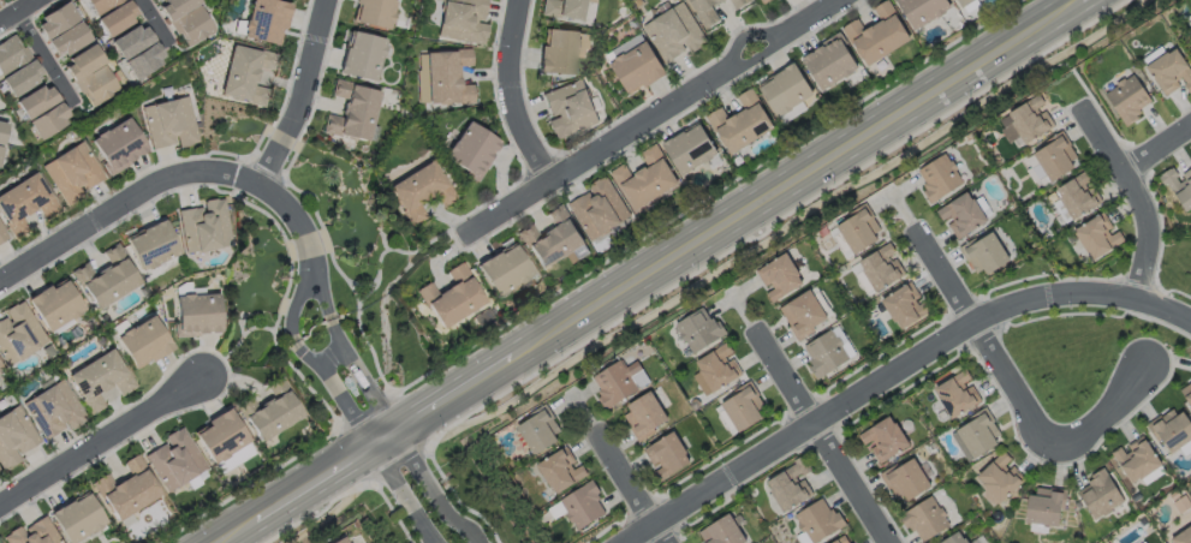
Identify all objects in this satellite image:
building: (5, 0)
road: (1082, 0)
building: (768, 1)
building: (99, 5)
building: (967, 5)
building: (174, 7)
building: (570, 10)
building: (715, 10)
road: (17, 11)
building: (924, 11)
building: (373, 13)
building: (115, 18)
building: (54, 20)
building: (464, 20)
building: (264, 23)
road: (154, 25)
building: (190, 28)
building: (674, 35)
building: (880, 37)
building: (65, 40)
building: (130, 42)
building: (1190, 42)
building: (1190, 44)
building: (10, 54)
building: (561, 54)
building: (363, 58)
road: (43, 60)
building: (143, 61)
building: (81, 65)
building: (832, 66)
building: (639, 70)
building: (1172, 71)
building: (239, 73)
building: (18, 77)
building: (451, 78)
building: (95, 86)
building: (788, 91)
road: (511, 95)
road: (299, 97)
building: (1131, 97)
building: (34, 101)
building: (571, 109)
building: (353, 113)
road: (650, 119)
building: (47, 121)
building: (1026, 121)
building: (167, 124)
building: (743, 126)
building: (1, 129)
building: (117, 145)
road: (1160, 149)
building: (692, 150)
building: (474, 151)
building: (1054, 159)
building: (996, 160)
building: (71, 172)
building: (937, 175)
road: (796, 179)
building: (650, 181)
building: (1181, 185)
building: (1080, 193)
building: (423, 195)
road: (1138, 199)
building: (24, 204)
road: (282, 209)
building: (602, 210)
building: (964, 215)
road: (103, 216)
building: (202, 227)
building: (861, 229)
building: (1098, 234)
building: (2, 237)
building: (555, 244)
building: (842, 244)
building: (151, 247)
building: (985, 253)
building: (882, 268)
building: (506, 273)
building: (779, 276)
building: (105, 279)
building: (452, 299)
building: (905, 305)
building: (56, 308)
building: (803, 314)
building: (200, 316)
building: (701, 329)
building: (16, 336)
building: (143, 345)
building: (828, 350)
road: (993, 351)
road: (332, 356)
building: (720, 366)
road: (898, 370)
building: (100, 382)
building: (614, 382)
fountain: (350, 386)
road: (453, 393)
building: (1186, 393)
building: (958, 395)
building: (744, 407)
building: (272, 410)
road: (1112, 410)
building: (53, 413)
road: (350, 414)
building: (644, 414)
road: (387, 417)
building: (907, 425)
building: (1172, 430)
building: (540, 431)
building: (979, 435)
building: (13, 437)
road: (824, 437)
building: (221, 438)
road: (379, 438)
road: (105, 440)
building: (886, 440)
building: (666, 455)
building: (1138, 460)
building: (174, 461)
building: (560, 470)
building: (1001, 478)
building: (906, 481)
road: (308, 483)
building: (792, 487)
building: (127, 489)
road: (629, 490)
building: (1101, 495)
building: (1183, 505)
building: (1047, 506)
building: (582, 507)
building: (79, 518)
building: (925, 519)
building: (820, 521)
road: (233, 530)
building: (723, 532)
building: (35, 533)
building: (1183, 537)
building: (957, 539)
building: (339, 541)
building: (842, 541)
building: (0, 542)

